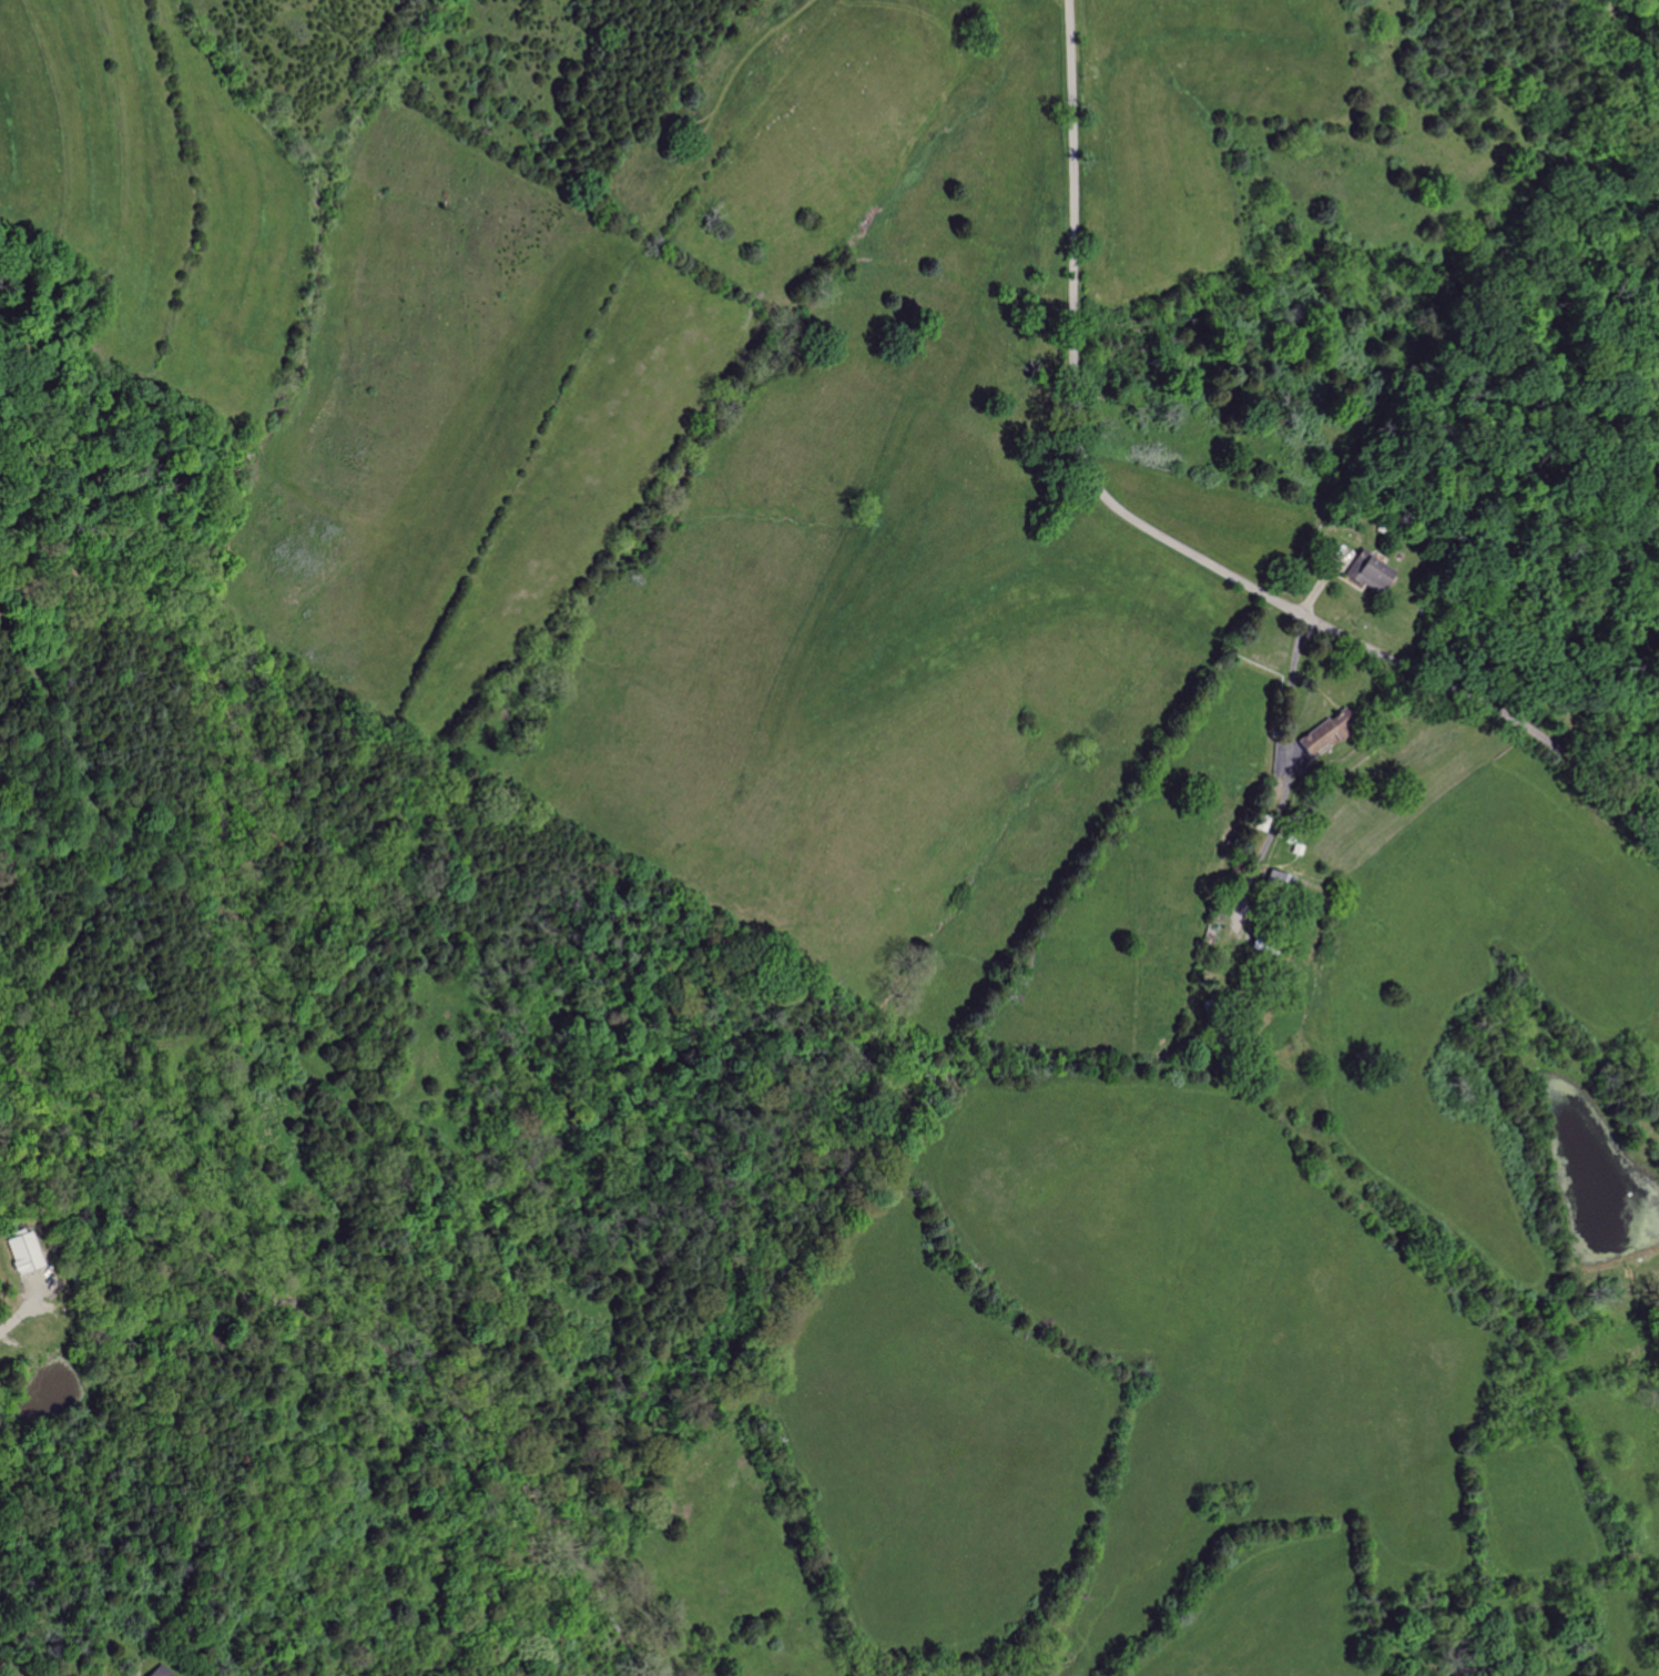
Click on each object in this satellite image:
road: (1164, 541)
building: (1365, 572)
building: (1313, 737)
road: (1285, 739)
building: (22, 1253)
road: (27, 1308)
building: (154, 1672)

